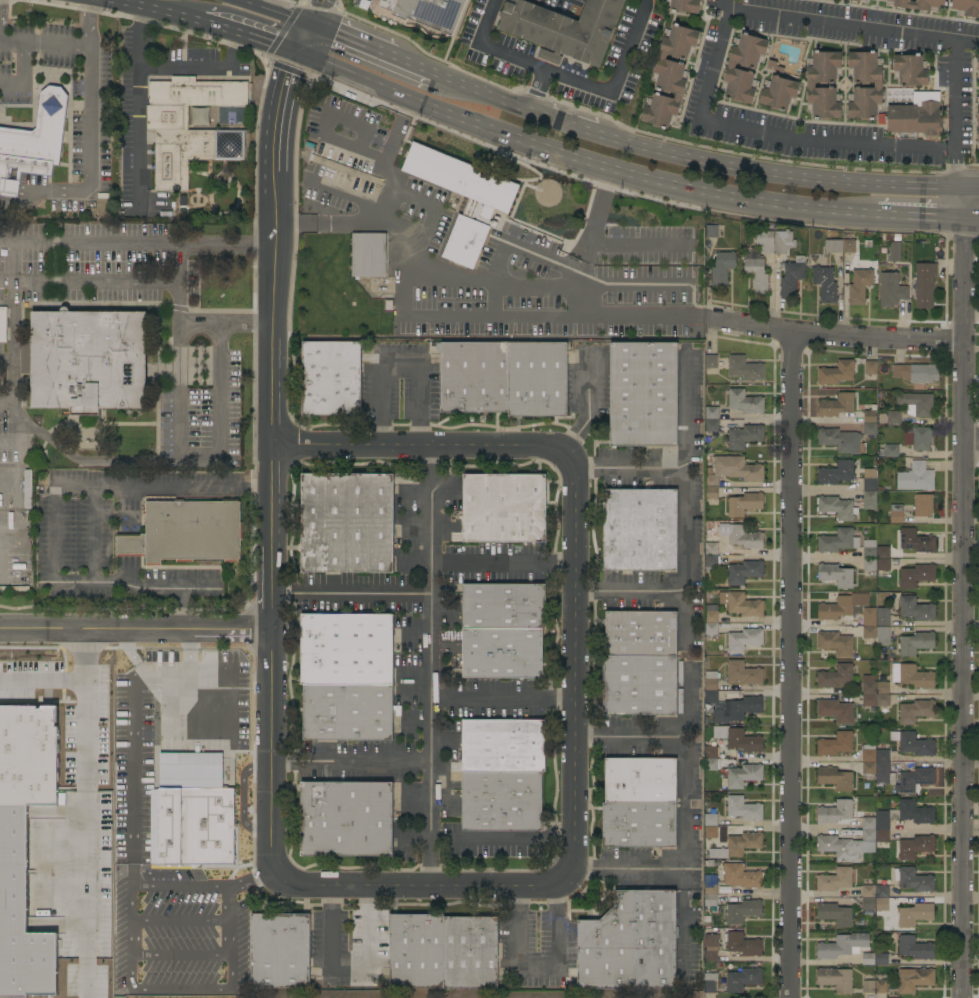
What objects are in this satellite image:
road: (299, 0)
traffic signals: (320, 0)
building: (854, 0)
road: (337, 4)
building: (918, 4)
parking lot: (564, 5)
road: (725, 5)
building: (685, 6)
building: (966, 7)
road: (726, 10)
road: (155, 12)
road: (273, 12)
road: (314, 12)
building: (421, 12)
building: (564, 28)
parking lot: (474, 31)
traffic signals: (334, 35)
road: (275, 37)
road: (302, 39)
road: (248, 40)
road: (44, 42)
road: (351, 42)
road: (967, 42)
traffic signals: (266, 46)
building: (549, 56)
building: (978, 63)
parking lot: (570, 64)
road: (169, 66)
road: (413, 66)
building: (774, 66)
building: (731, 68)
building: (910, 70)
traffic signals: (286, 74)
road: (23, 75)
building: (669, 75)
parking lot: (957, 77)
road: (567, 79)
road: (462, 84)
building: (811, 85)
building: (877, 85)
road: (534, 89)
building: (779, 93)
road: (413, 99)
road: (509, 101)
road: (279, 110)
building: (915, 119)
road: (561, 120)
building: (978, 121)
building: (184, 125)
road: (321, 125)
road: (139, 138)
road: (90, 140)
building: (33, 143)
road: (550, 151)
road: (382, 162)
building: (346, 169)
road: (773, 174)
road: (968, 187)
road: (345, 195)
road: (719, 195)
building: (490, 203)
building: (181, 204)
road: (434, 210)
road: (596, 214)
road: (917, 216)
road: (969, 219)
building: (711, 231)
building: (765, 241)
building: (784, 241)
road: (137, 243)
road: (639, 243)
road: (513, 245)
building: (832, 246)
building: (848, 246)
building: (894, 252)
building: (368, 254)
building: (722, 268)
building: (756, 275)
road: (90, 279)
building: (791, 279)
building: (825, 284)
building: (924, 284)
parking lot: (68, 286)
road: (545, 286)
building: (859, 286)
building: (891, 290)
road: (417, 314)
road: (648, 317)
road: (12, 321)
building: (3, 324)
road: (227, 324)
road: (836, 336)
road: (181, 352)
road: (6, 361)
building: (86, 361)
road: (397, 364)
building: (710, 364)
building: (870, 367)
building: (745, 368)
building: (836, 373)
building: (916, 373)
building: (474, 376)
building: (331, 379)
building: (537, 379)
parking lot: (400, 383)
building: (643, 394)
road: (7, 400)
building: (744, 401)
building: (917, 403)
building: (836, 405)
road: (219, 413)
building: (711, 413)
parking lot: (202, 414)
building: (870, 415)
building: (893, 417)
building: (711, 425)
road: (14, 428)
building: (869, 429)
building: (745, 436)
building: (918, 438)
building: (840, 440)
road: (970, 444)
road: (422, 448)
building: (891, 451)
road: (84, 461)
parking lot: (634, 466)
road: (630, 470)
building: (734, 470)
building: (835, 473)
building: (915, 478)
building: (407, 480)
building: (869, 484)
building: (27, 488)
building: (711, 493)
building: (869, 500)
building: (744, 504)
building: (922, 505)
building: (504, 508)
building: (836, 508)
building: (896, 514)
building: (347, 523)
parking lot: (73, 528)
building: (640, 530)
building: (185, 532)
building: (744, 537)
road: (55, 538)
road: (93, 538)
building: (838, 541)
building: (916, 541)
building: (711, 546)
road: (271, 549)
building: (869, 549)
building: (882, 552)
building: (711, 561)
parking lot: (494, 564)
road: (501, 566)
building: (882, 566)
building: (869, 569)
building: (744, 572)
building: (835, 575)
building: (916, 575)
parking lot: (641, 591)
parking lot: (358, 592)
road: (632, 592)
road: (962, 592)
road: (350, 593)
building: (741, 604)
building: (504, 606)
building: (841, 606)
building: (916, 609)
building: (711, 613)
building: (868, 616)
building: (882, 617)
road: (135, 630)
building: (711, 631)
building: (869, 632)
building: (640, 634)
building: (882, 636)
building: (744, 640)
building: (835, 643)
building: (915, 644)
building: (346, 649)
road: (86, 650)
road: (124, 651)
road: (189, 652)
building: (502, 653)
road: (574, 665)
road: (792, 665)
road: (428, 666)
road: (163, 673)
building: (744, 673)
road: (689, 674)
building: (835, 676)
building: (911, 676)
building: (640, 686)
building: (883, 688)
building: (868, 691)
road: (501, 695)
parking lot: (491, 698)
building: (882, 700)
building: (727, 703)
building: (835, 711)
building: (915, 711)
road: (188, 712)
building: (348, 712)
parking lot: (638, 734)
road: (632, 736)
building: (738, 739)
building: (912, 743)
building: (835, 744)
building: (503, 746)
building: (710, 752)
building: (868, 753)
parking lot: (354, 759)
road: (349, 760)
building: (710, 765)
building: (868, 768)
building: (883, 768)
building: (743, 775)
road: (132, 778)
building: (835, 779)
building: (640, 780)
building: (914, 780)
road: (87, 790)
road: (242, 797)
building: (501, 801)
building: (743, 808)
building: (190, 812)
building: (835, 812)
building: (901, 817)
building: (346, 819)
building: (710, 820)
building: (868, 823)
building: (639, 824)
building: (710, 832)
road: (501, 839)
building: (738, 845)
building: (844, 845)
building: (915, 847)
building: (25, 851)
parking lot: (223, 851)
building: (743, 876)
road: (248, 878)
building: (834, 879)
building: (913, 879)
road: (177, 886)
road: (453, 888)
building: (710, 890)
building: (868, 891)
building: (882, 891)
road: (130, 904)
building: (868, 904)
building: (882, 904)
building: (742, 911)
building: (834, 914)
building: (914, 914)
road: (227, 919)
road: (179, 921)
road: (682, 924)
road: (130, 938)
parking lot: (347, 941)
building: (630, 943)
parking lot: (537, 944)
building: (742, 944)
building: (842, 945)
building: (710, 947)
building: (914, 947)
building: (280, 951)
building: (416, 951)
building: (470, 952)
road: (180, 954)
building: (868, 959)
building: (881, 959)
road: (346, 966)
road: (537, 972)
building: (743, 979)
building: (835, 979)
building: (914, 979)
building: (709, 982)
building: (881, 986)
building: (868, 987)
road: (181, 989)

